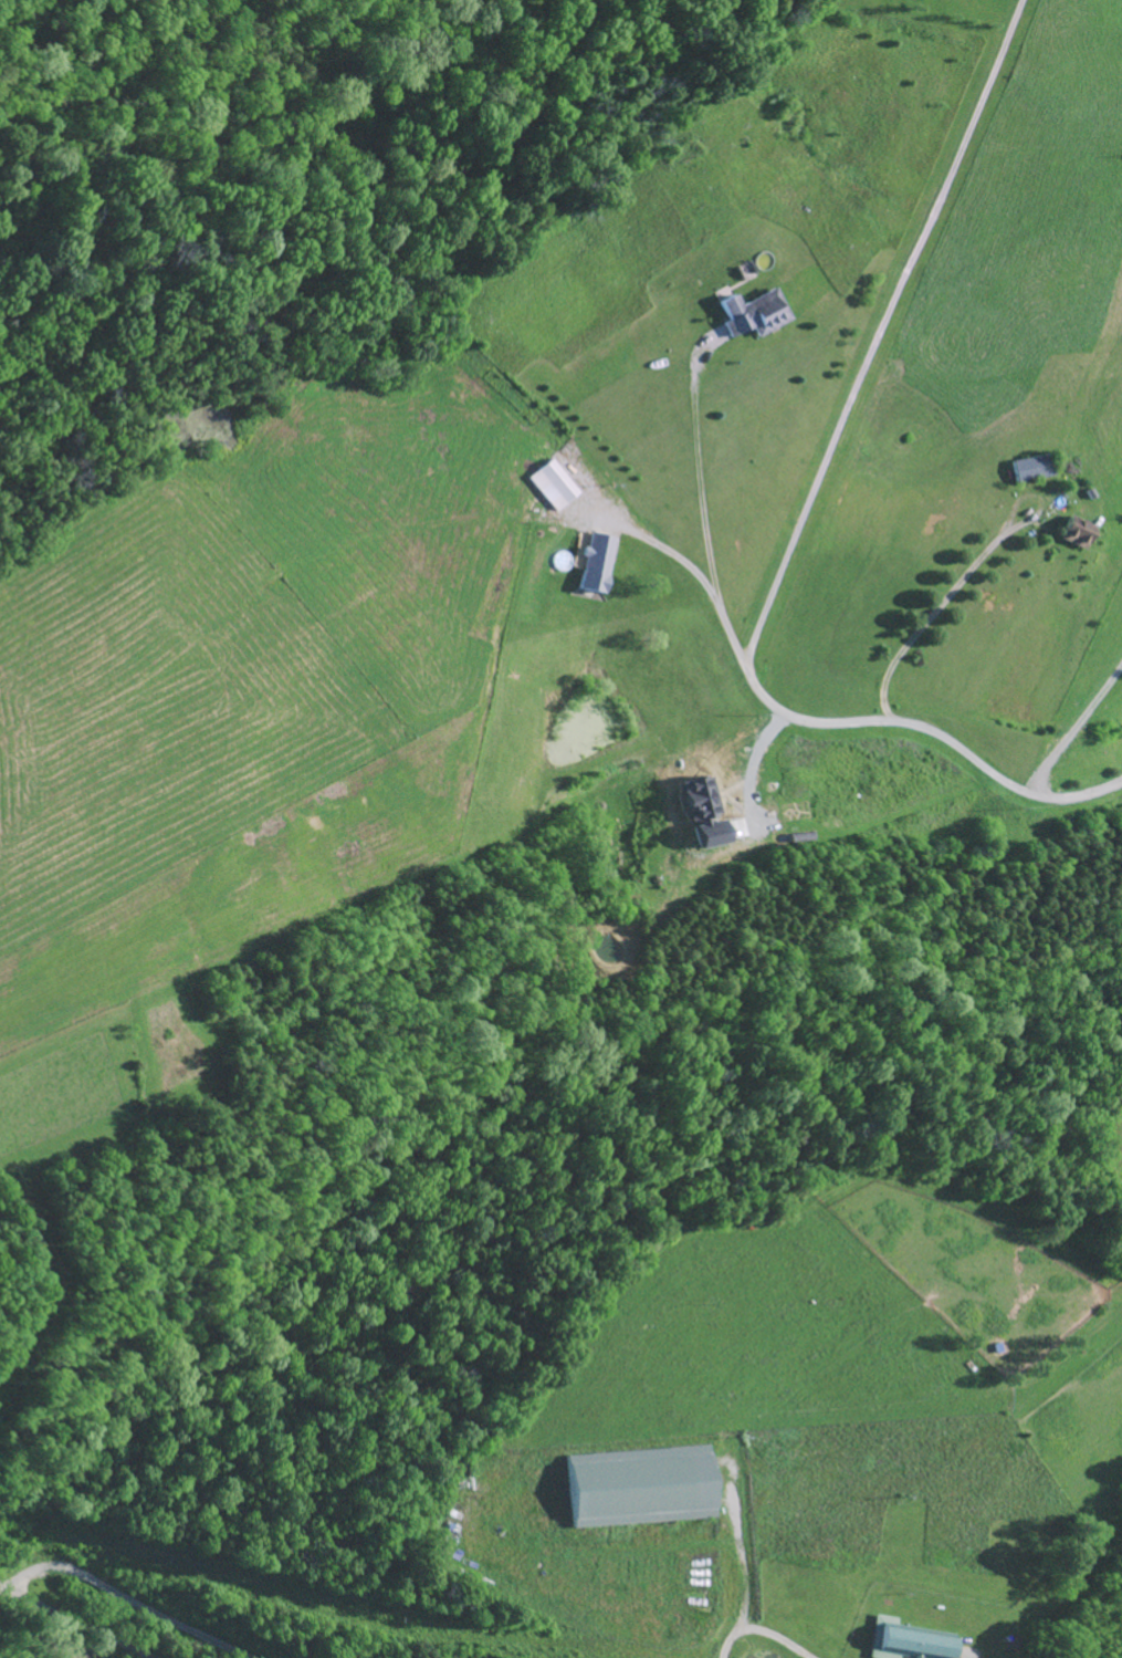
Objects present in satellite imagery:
building: (756, 315)
road: (884, 335)
building: (1035, 469)
road: (702, 472)
building: (554, 487)
building: (1077, 534)
building: (596, 564)
road: (940, 606)
road: (833, 723)
building: (654, 1490)
road: (744, 1556)
road: (126, 1598)
road: (74, 1623)
road: (762, 1631)
building: (909, 1641)

